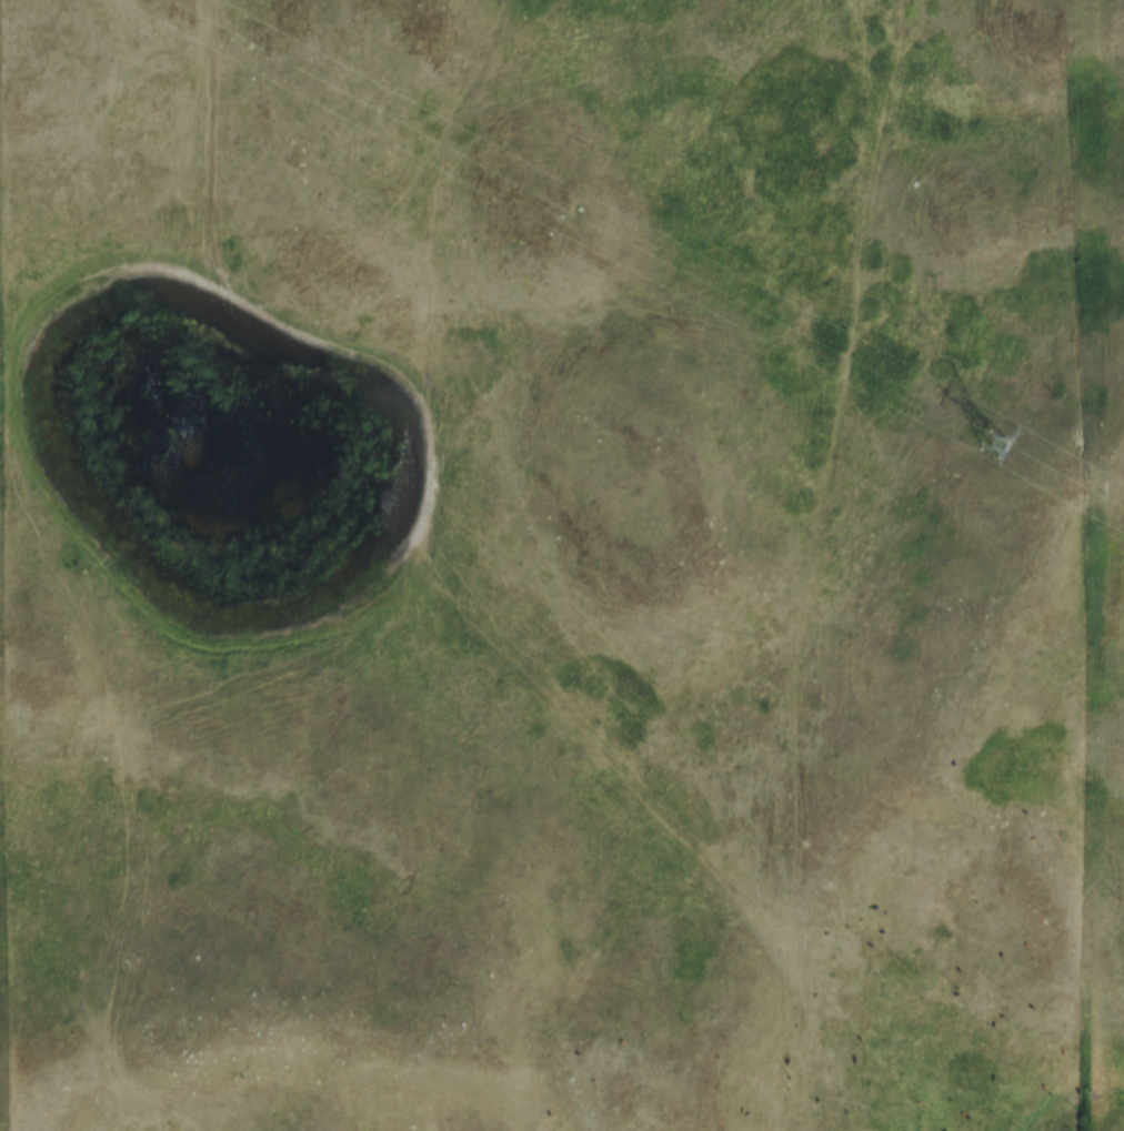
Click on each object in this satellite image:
power tower: (988, 445)

